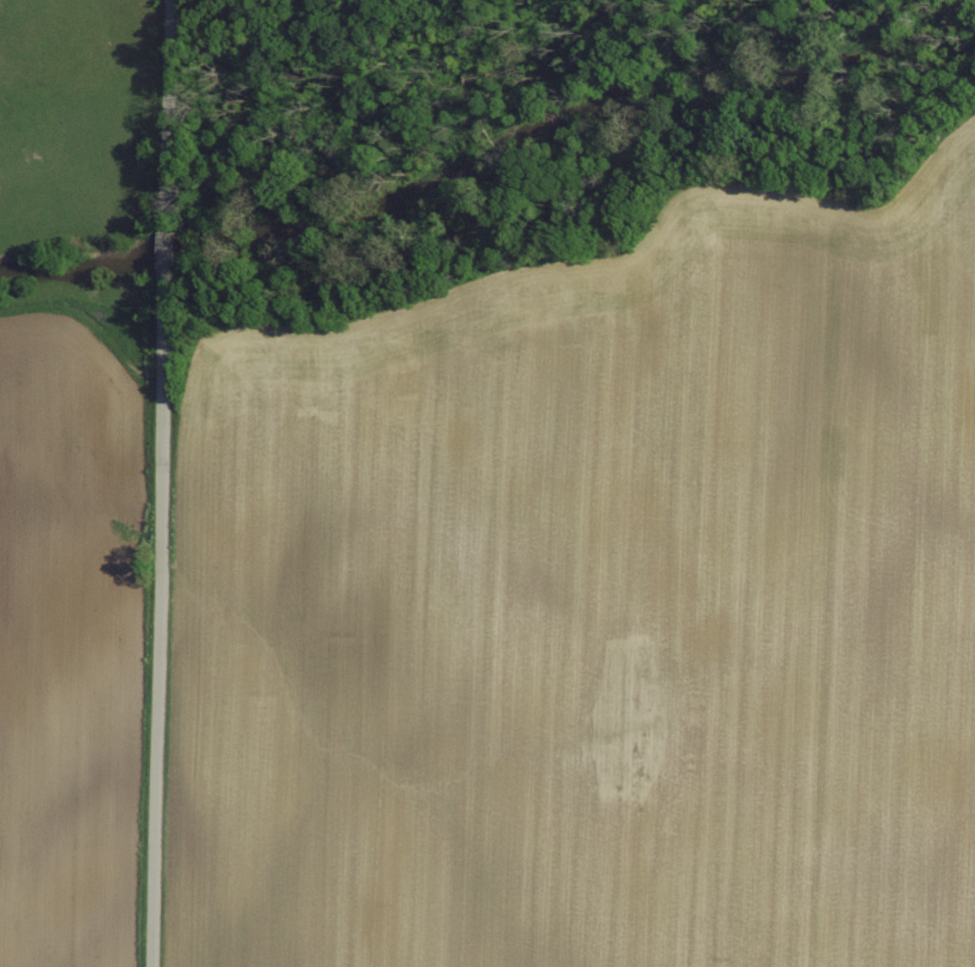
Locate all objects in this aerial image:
road: (165, 122)
road: (158, 605)

